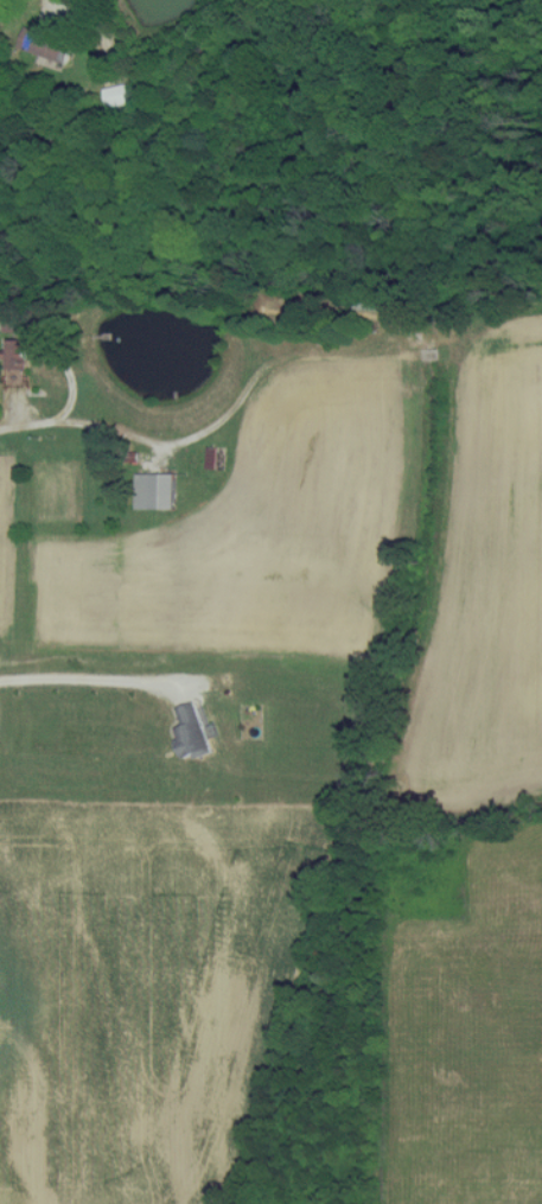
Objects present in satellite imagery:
building: (43, 45)
building: (116, 95)
building: (14, 361)
road: (110, 432)
building: (153, 491)
road: (85, 680)
building: (189, 732)

